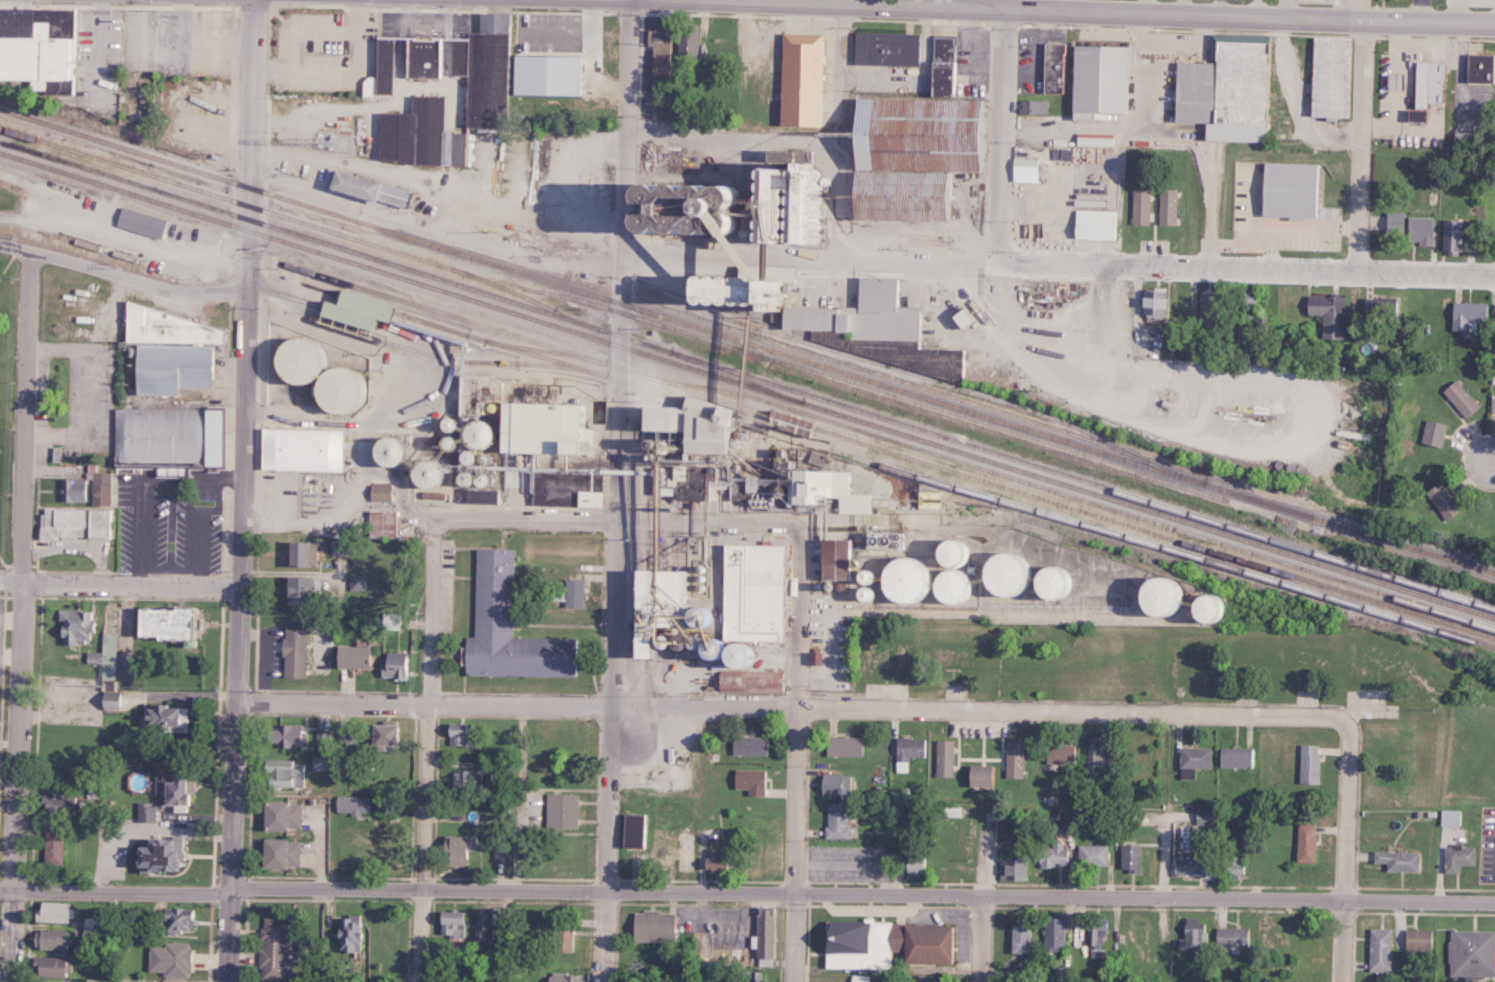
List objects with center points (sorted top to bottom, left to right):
road: (1031, 5)
road: (1137, 13)
building: (684, 41)
building: (40, 44)
parking lot: (319, 47)
road: (1186, 48)
building: (655, 50)
building: (880, 50)
building: (454, 56)
building: (422, 62)
road: (838, 65)
building: (938, 66)
building: (1477, 68)
building: (1050, 69)
building: (484, 71)
building: (542, 74)
building: (1327, 77)
building: (797, 78)
building: (1095, 81)
building: (1392, 81)
building: (66, 86)
building: (1424, 88)
building: (1189, 94)
building: (1031, 106)
building: (1077, 115)
road: (1125, 128)
building: (418, 135)
road: (999, 135)
building: (1093, 140)
road: (734, 141)
road: (1359, 146)
building: (906, 155)
building: (1023, 169)
building: (345, 184)
building: (1288, 189)
building: (388, 194)
railway: (365, 200)
building: (716, 202)
road: (1211, 204)
building: (1139, 205)
building: (1166, 206)
railway: (291, 219)
building: (1392, 220)
building: (145, 222)
building: (1093, 224)
road: (855, 229)
building: (1418, 229)
building: (1450, 235)
building: (200, 240)
road: (754, 255)
road: (6, 263)
road: (1217, 267)
road: (123, 273)
building: (763, 279)
building: (1241, 294)
building: (1149, 301)
building: (1388, 306)
building: (349, 309)
building: (1326, 313)
building: (1494, 313)
building: (855, 314)
building: (1466, 315)
railway: (441, 326)
railway: (482, 327)
railway: (759, 337)
railway: (747, 342)
building: (178, 350)
railway: (543, 351)
building: (924, 359)
railway: (906, 371)
building: (314, 375)
railway: (731, 376)
railway: (747, 376)
railway: (747, 385)
railway: (877, 392)
parking lot: (87, 393)
building: (1459, 397)
park: (6, 404)
building: (1492, 404)
building: (787, 423)
building: (1432, 433)
building: (175, 439)
building: (379, 448)
building: (535, 448)
building: (297, 449)
building: (695, 456)
road: (1492, 461)
building: (415, 471)
railway: (911, 474)
building: (104, 488)
building: (77, 489)
road: (242, 490)
road: (617, 490)
building: (377, 492)
building: (1441, 500)
railway: (1091, 503)
road: (596, 513)
railway: (1090, 513)
building: (80, 523)
building: (380, 523)
building: (297, 553)
building: (945, 553)
road: (2, 558)
building: (829, 558)
building: (1019, 576)
building: (895, 577)
building: (354, 581)
road: (119, 582)
building: (292, 589)
building: (750, 591)
building: (567, 593)
building: (662, 594)
building: (1170, 600)
parking lot: (0, 609)
road: (22, 615)
building: (390, 620)
building: (179, 624)
building: (79, 626)
building: (504, 627)
building: (717, 652)
building: (291, 653)
building: (111, 656)
building: (814, 657)
building: (392, 664)
building: (746, 681)
building: (116, 700)
road: (783, 706)
building: (171, 717)
building: (458, 733)
building: (377, 734)
building: (283, 735)
road: (795, 735)
road: (425, 744)
building: (747, 745)
building: (841, 746)
building: (909, 748)
building: (1097, 750)
building: (1057, 753)
building: (1235, 757)
building: (943, 758)
building: (1012, 759)
building: (1191, 760)
building: (1307, 764)
building: (279, 773)
building: (979, 775)
building: (466, 780)
building: (748, 780)
building: (833, 784)
building: (349, 804)
building: (64, 805)
building: (503, 807)
building: (560, 811)
building: (143, 812)
building: (278, 815)
building: (1203, 816)
building: (1448, 817)
building: (836, 820)
building: (1304, 842)
road: (1346, 843)
building: (56, 845)
building: (453, 849)
building: (498, 851)
building: (277, 853)
building: (152, 854)
building: (1091, 854)
building: (1052, 855)
building: (1128, 857)
building: (1455, 857)
building: (714, 859)
building: (1395, 860)
building: (914, 864)
building: (1233, 864)
building: (1189, 865)
building: (1009, 869)
road: (116, 890)
road: (863, 895)
building: (58, 911)
building: (175, 920)
building: (450, 922)
building: (651, 926)
building: (93, 927)
building: (480, 927)
building: (345, 933)
building: (1052, 934)
building: (1190, 935)
building: (1095, 936)
building: (560, 937)
building: (762, 937)
building: (57, 938)
road: (979, 939)
building: (1017, 939)
building: (1229, 939)
building: (1415, 939)
building: (883, 944)
building: (273, 949)
building: (1378, 949)
building: (1471, 953)
building: (173, 959)
building: (59, 966)
building: (561, 977)
building: (133, 981)

